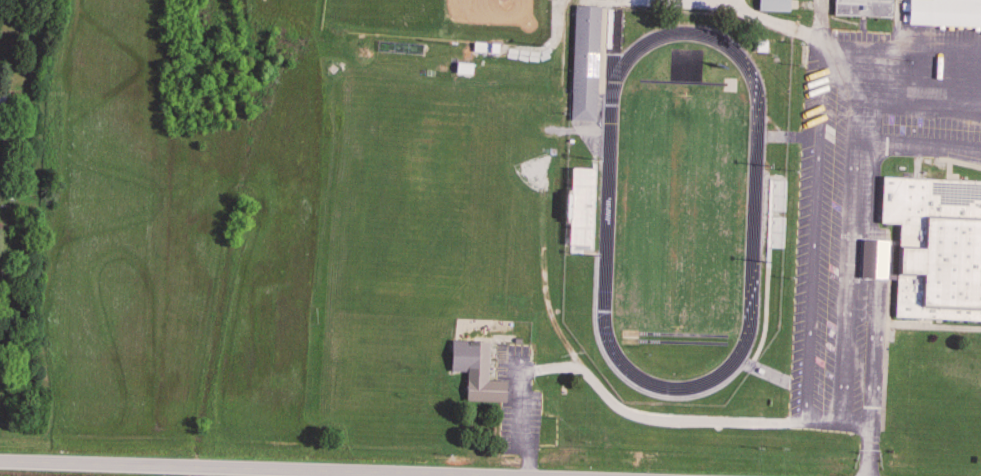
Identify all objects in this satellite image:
building: (771, 6)
building: (861, 9)
building: (944, 14)
building: (483, 49)
building: (582, 65)
building: (2, 104)
road: (867, 231)
building: (935, 247)
building: (507, 302)
building: (474, 373)
road: (634, 415)
road: (869, 450)
road: (230, 469)

